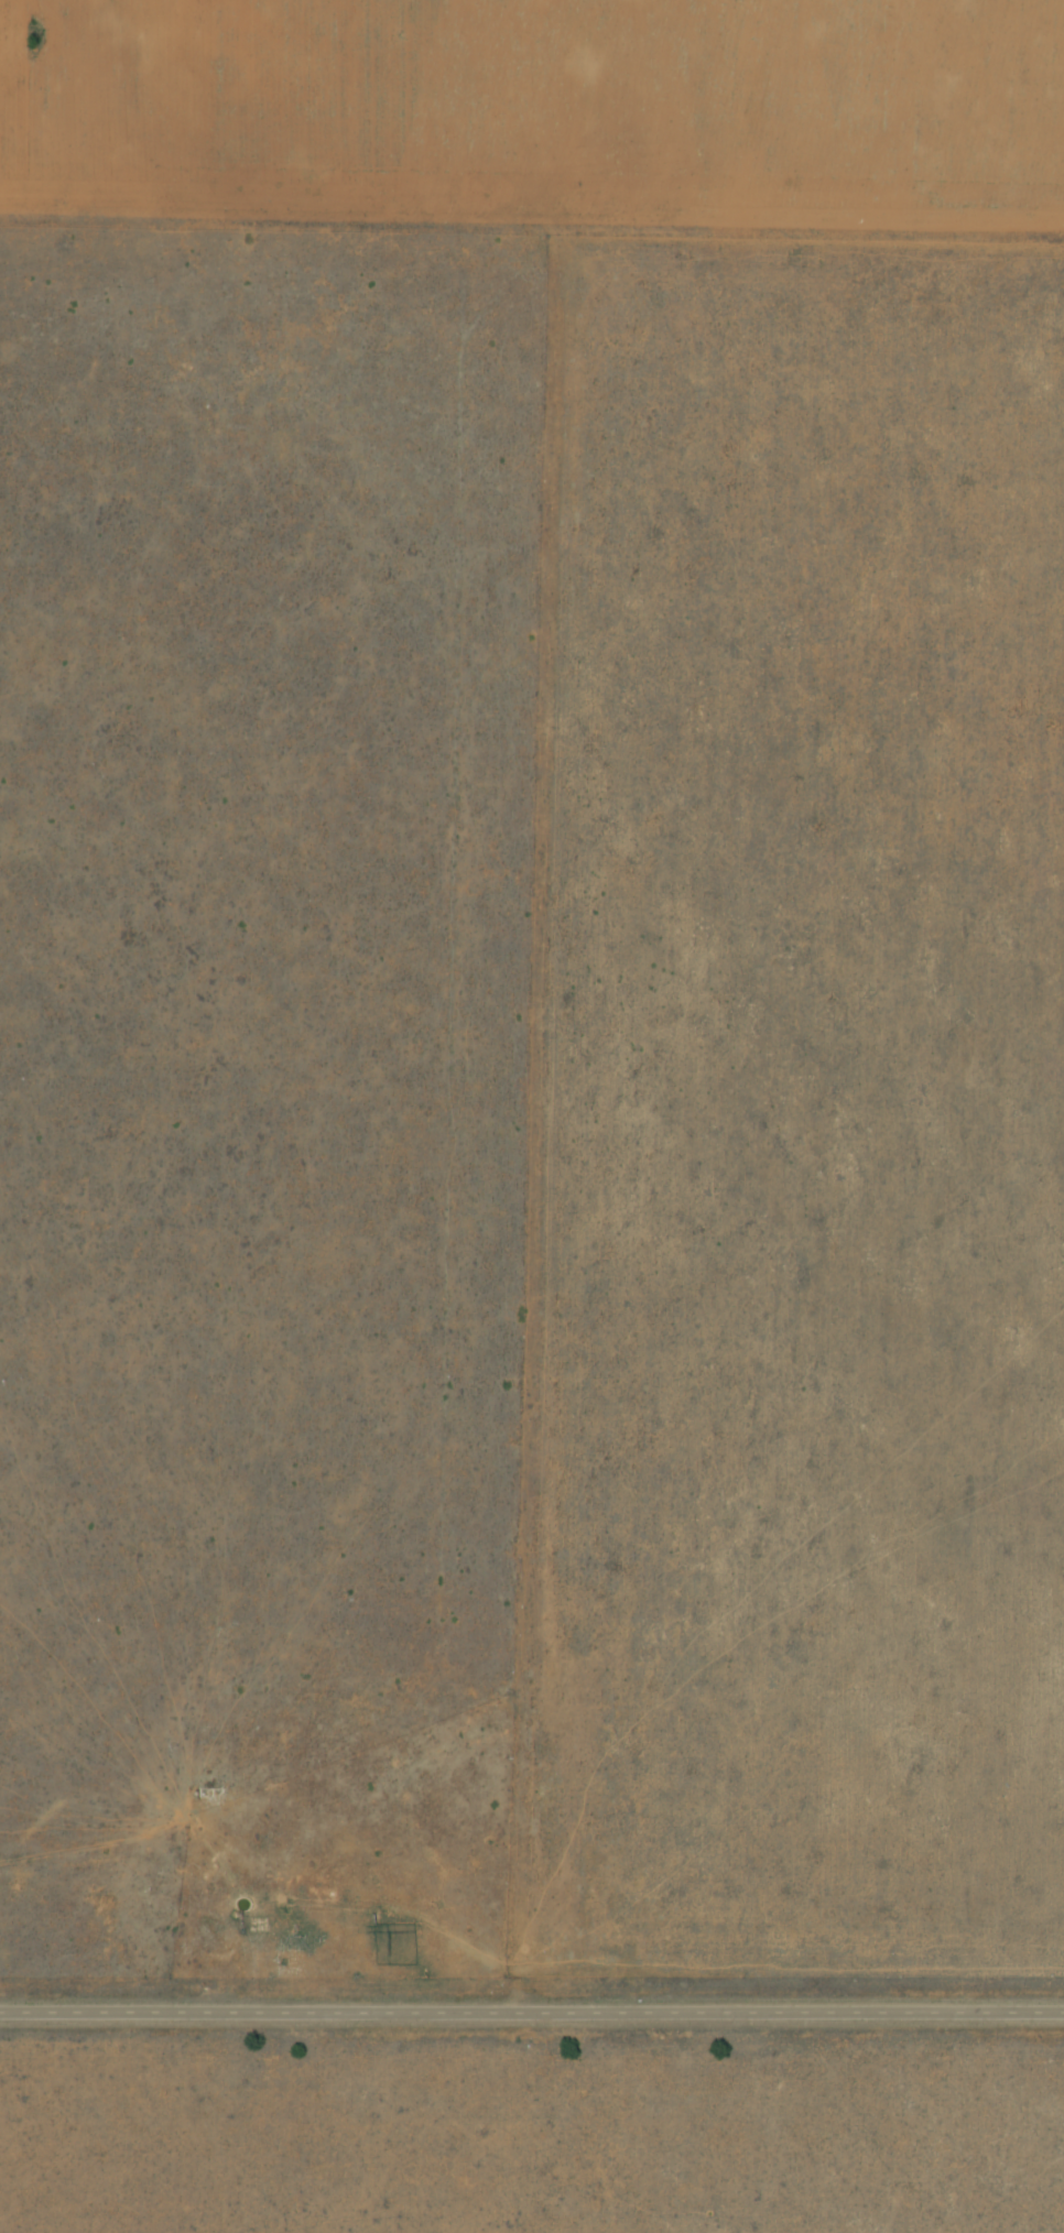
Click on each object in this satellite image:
road: (532, 2019)

